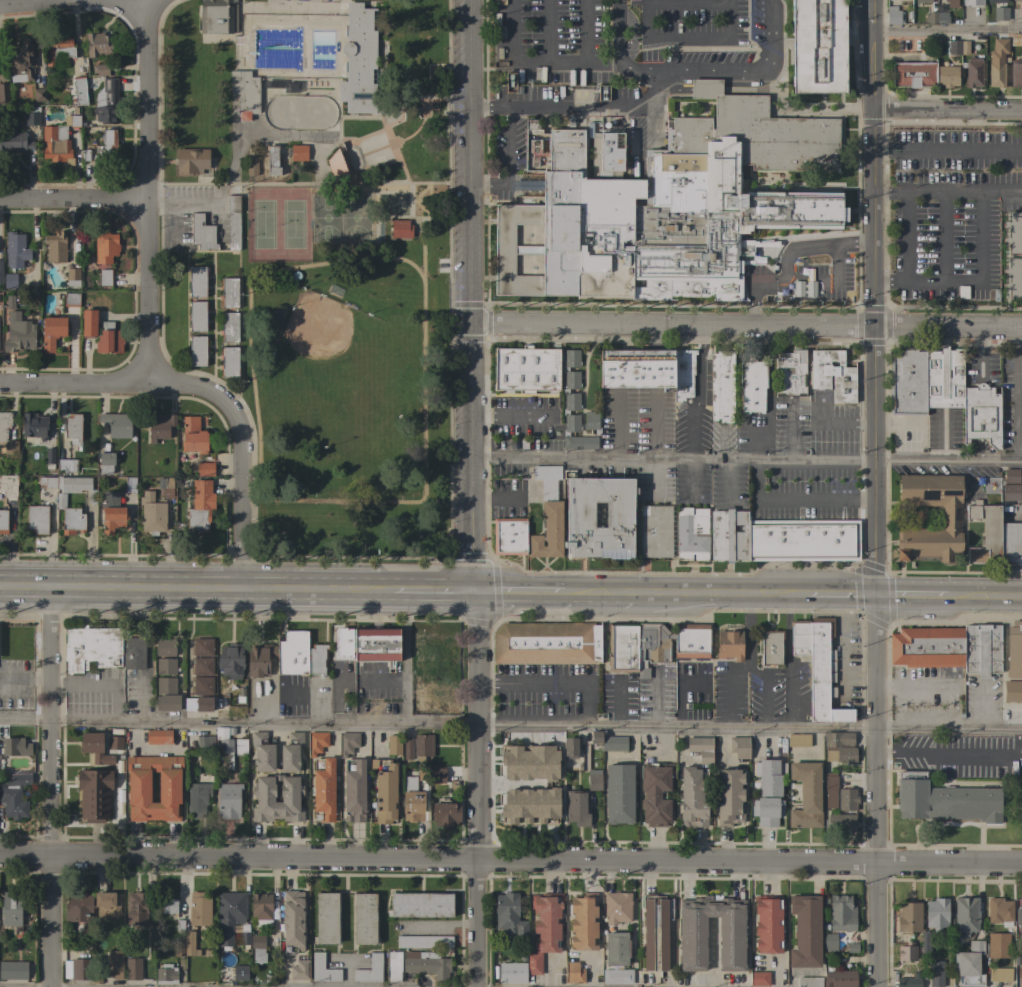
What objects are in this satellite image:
building: (922, 1)
building: (948, 1)
building: (995, 1)
building: (974, 2)
road: (56, 3)
road: (290, 9)
building: (1000, 13)
building: (893, 15)
building: (217, 16)
building: (936, 18)
road: (946, 32)
road: (649, 37)
building: (1003, 39)
building: (1016, 39)
building: (98, 44)
building: (818, 46)
building: (957, 47)
building: (57, 49)
building: (23, 59)
building: (359, 62)
road: (538, 62)
building: (100, 69)
building: (973, 72)
building: (996, 72)
building: (1016, 72)
building: (912, 74)
building: (947, 76)
road: (698, 77)
building: (705, 88)
building: (79, 90)
building: (111, 91)
building: (245, 93)
building: (39, 94)
building: (4, 95)
road: (574, 101)
road: (946, 108)
park: (299, 113)
building: (106, 115)
building: (32, 116)
road: (359, 118)
building: (72, 121)
building: (532, 127)
road: (408, 135)
building: (14, 141)
building: (56, 145)
building: (107, 146)
road: (375, 150)
road: (903, 151)
road: (963, 151)
building: (299, 153)
road: (358, 156)
building: (272, 160)
road: (505, 160)
road: (166, 161)
building: (191, 161)
building: (337, 164)
building: (252, 165)
road: (362, 179)
road: (268, 184)
road: (427, 184)
road: (426, 187)
road: (947, 192)
road: (73, 200)
road: (409, 201)
road: (411, 201)
road: (421, 201)
park: (391, 205)
building: (667, 205)
park: (354, 217)
park: (325, 218)
road: (398, 218)
building: (233, 222)
park: (262, 225)
park: (292, 225)
building: (400, 228)
building: (1014, 232)
building: (202, 233)
road: (944, 245)
building: (105, 246)
road: (906, 246)
building: (55, 247)
building: (16, 251)
road: (213, 252)
road: (421, 254)
park: (317, 258)
building: (1, 271)
building: (72, 277)
building: (104, 277)
building: (1014, 277)
building: (10, 280)
road: (791, 280)
building: (197, 282)
road: (966, 283)
building: (229, 292)
road: (474, 297)
road: (873, 298)
building: (71, 299)
building: (9, 302)
road: (160, 315)
building: (197, 316)
road: (212, 317)
building: (89, 323)
road: (748, 325)
road: (146, 327)
building: (229, 327)
park: (316, 327)
building: (52, 332)
building: (19, 333)
building: (109, 339)
building: (197, 351)
building: (229, 361)
building: (637, 368)
building: (525, 369)
building: (790, 372)
building: (683, 374)
building: (832, 374)
building: (944, 377)
building: (908, 380)
road: (73, 383)
building: (722, 385)
building: (752, 385)
road: (1018, 393)
building: (573, 404)
building: (981, 415)
building: (592, 417)
road: (844, 423)
building: (4, 424)
building: (117, 424)
building: (73, 427)
building: (160, 427)
building: (34, 428)
road: (789, 430)
building: (193, 435)
building: (11, 449)
building: (48, 457)
road: (748, 459)
building: (106, 463)
building: (67, 465)
building: (205, 469)
building: (130, 484)
building: (69, 485)
building: (1011, 485)
building: (8, 486)
building: (165, 487)
road: (423, 487)
road: (797, 501)
building: (199, 507)
building: (112, 512)
building: (152, 512)
building: (547, 514)
building: (619, 515)
building: (70, 516)
building: (950, 517)
building: (37, 519)
building: (3, 521)
building: (655, 531)
building: (692, 534)
building: (986, 534)
building: (729, 535)
building: (509, 536)
building: (803, 540)
building: (1011, 547)
road: (196, 590)
road: (433, 594)
road: (521, 595)
road: (597, 596)
road: (716, 596)
road: (839, 597)
road: (909, 598)
road: (984, 599)
building: (800, 637)
building: (691, 640)
building: (546, 643)
building: (376, 645)
building: (729, 645)
building: (652, 646)
building: (165, 647)
building: (203, 647)
building: (622, 647)
building: (771, 647)
building: (927, 647)
building: (92, 648)
building: (981, 649)
building: (1014, 650)
building: (134, 653)
building: (293, 653)
building: (434, 654)
building: (317, 658)
building: (259, 659)
building: (344, 659)
building: (231, 660)
building: (166, 666)
building: (202, 666)
building: (777, 673)
building: (822, 674)
road: (93, 685)
building: (165, 685)
building: (202, 685)
road: (548, 686)
road: (385, 687)
building: (1012, 691)
building: (167, 702)
building: (198, 704)
road: (510, 726)
building: (158, 737)
building: (838, 739)
building: (798, 740)
building: (205, 741)
building: (224, 741)
building: (609, 741)
building: (316, 742)
building: (347, 742)
building: (115, 743)
building: (394, 745)
building: (15, 746)
building: (422, 746)
building: (739, 746)
building: (94, 747)
building: (240, 747)
building: (570, 747)
building: (407, 748)
building: (700, 748)
building: (262, 751)
building: (291, 752)
road: (957, 753)
building: (841, 755)
building: (423, 773)
building: (769, 776)
building: (512, 778)
building: (209, 779)
building: (594, 779)
building: (138, 787)
building: (409, 787)
road: (48, 788)
building: (323, 789)
building: (354, 790)
building: (385, 790)
building: (830, 790)
road: (474, 791)
road: (875, 792)
building: (94, 793)
building: (655, 793)
building: (619, 794)
building: (806, 795)
building: (15, 796)
building: (291, 797)
building: (693, 797)
building: (729, 797)
building: (197, 798)
building: (846, 798)
building: (944, 800)
building: (228, 801)
building: (413, 805)
building: (577, 807)
building: (511, 809)
building: (767, 810)
building: (445, 813)
building: (840, 822)
road: (511, 860)
building: (825, 900)
building: (107, 904)
building: (420, 904)
building: (169, 905)
building: (617, 907)
building: (11, 908)
building: (136, 908)
building: (199, 909)
building: (262, 910)
building: (80, 911)
building: (999, 911)
building: (842, 913)
building: (936, 913)
building: (230, 914)
building: (509, 916)
building: (965, 916)
building: (909, 917)
building: (326, 918)
building: (1019, 918)
building: (365, 919)
building: (293, 921)
building: (583, 922)
building: (767, 923)
building: (178, 926)
building: (692, 926)
building: (825, 927)
building: (544, 928)
building: (805, 931)
building: (655, 932)
building: (244, 936)
building: (425, 942)
building: (829, 942)
building: (925, 942)
building: (189, 944)
building: (996, 945)
building: (85, 946)
building: (616, 948)
building: (852, 948)
building: (257, 949)
building: (179, 950)
building: (906, 952)
building: (172, 960)
building: (114, 964)
building: (426, 964)
building: (968, 964)
building: (394, 965)
building: (133, 968)
building: (77, 969)
building: (322, 969)
building: (13, 970)
building: (299, 970)
building: (370, 970)
building: (240, 972)
building: (512, 972)
building: (573, 973)
building: (935, 973)
building: (166, 974)
building: (999, 975)
building: (617, 976)
building: (758, 978)
building: (840, 978)
building: (809, 981)
building: (908, 982)

